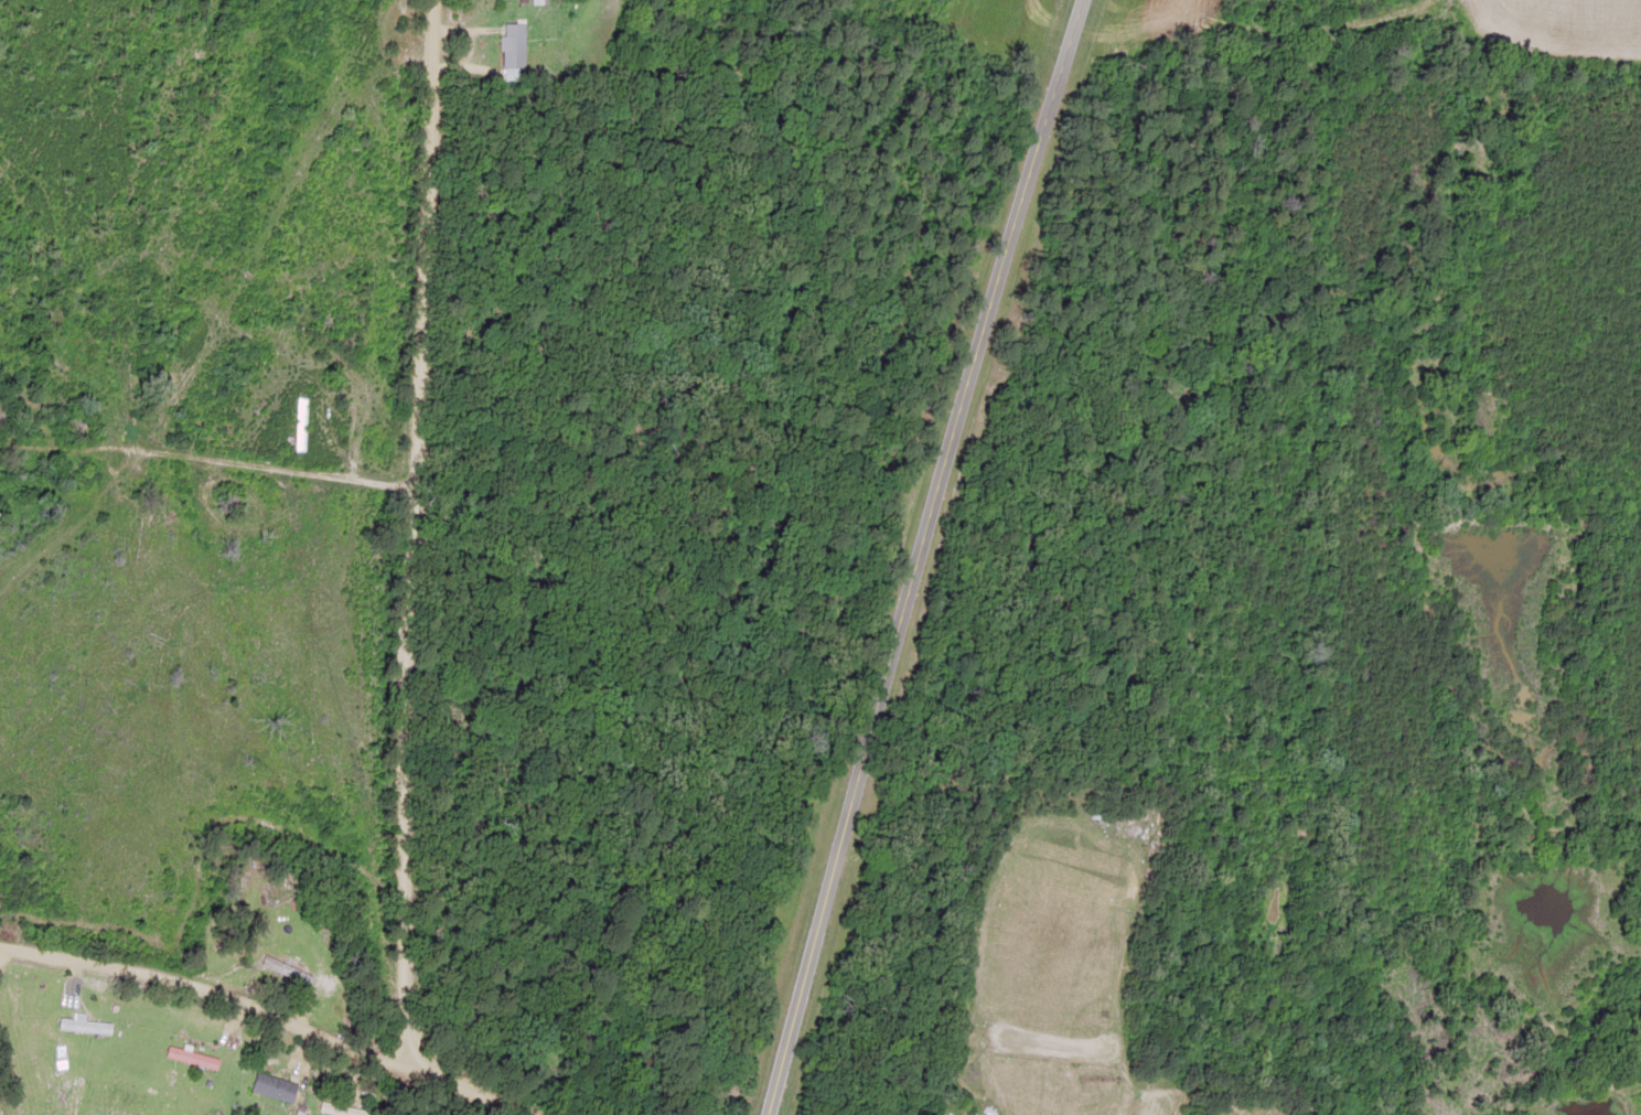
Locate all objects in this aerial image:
building: (532, 1)
building: (297, 426)
road: (271, 482)
road: (905, 554)
road: (438, 594)
building: (275, 968)
road: (250, 1010)
building: (83, 1027)
building: (265, 1086)

